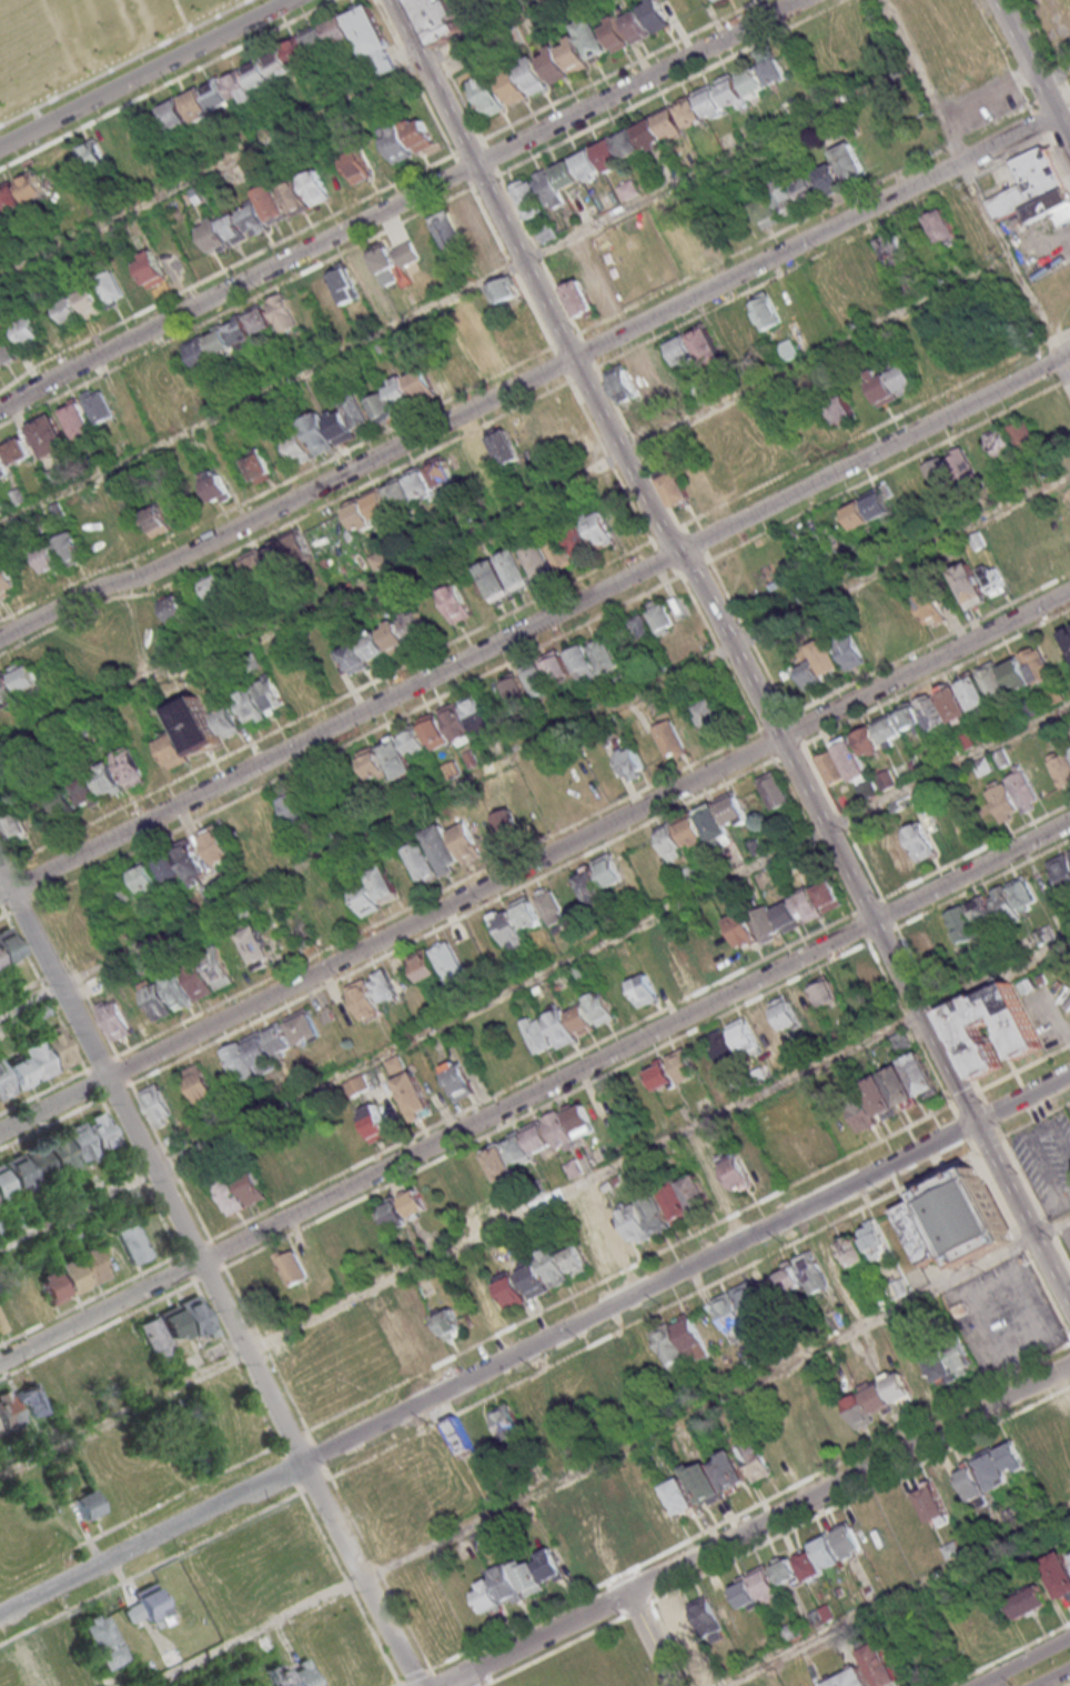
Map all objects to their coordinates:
road: (180, 14)
building: (654, 14)
building: (442, 19)
building: (625, 30)
road: (250, 40)
road: (1046, 46)
building: (575, 51)
road: (1002, 56)
road: (122, 62)
building: (289, 62)
road: (445, 71)
building: (773, 71)
road: (145, 73)
road: (1032, 73)
building: (532, 76)
road: (1054, 78)
road: (415, 79)
building: (753, 82)
building: (512, 87)
building: (730, 92)
building: (487, 94)
building: (175, 116)
road: (1037, 121)
road: (85, 123)
building: (418, 133)
building: (133, 136)
road: (271, 138)
building: (396, 143)
building: (626, 144)
building: (91, 153)
road: (488, 154)
road: (1056, 160)
building: (848, 161)
building: (357, 167)
road: (461, 170)
building: (828, 177)
building: (315, 188)
building: (807, 189)
building: (1033, 189)
road: (976, 190)
building: (21, 191)
building: (627, 191)
building: (294, 198)
building: (527, 198)
road: (400, 202)
building: (271, 203)
building: (777, 203)
building: (467, 219)
building: (254, 220)
building: (942, 228)
building: (446, 230)
building: (222, 233)
building: (693, 244)
building: (894, 249)
road: (538, 253)
building: (382, 264)
road: (224, 268)
road: (527, 270)
building: (120, 282)
building: (344, 283)
building: (322, 290)
building: (503, 291)
building: (589, 293)
road: (456, 295)
road: (236, 308)
building: (69, 311)
building: (282, 312)
building: (755, 314)
building: (260, 319)
building: (28, 330)
building: (218, 342)
building: (707, 345)
building: (6, 348)
road: (587, 349)
building: (482, 352)
building: (633, 379)
road: (527, 380)
building: (892, 382)
building: (421, 383)
building: (400, 393)
building: (841, 409)
building: (87, 412)
building: (356, 414)
road: (872, 428)
building: (316, 433)
building: (48, 435)
building: (1010, 438)
road: (638, 446)
building: (493, 448)
building: (299, 449)
building: (16, 451)
road: (607, 458)
building: (2, 466)
building: (256, 466)
building: (960, 466)
building: (440, 471)
building: (936, 479)
building: (213, 484)
road: (277, 486)
building: (676, 488)
building: (410, 489)
building: (866, 509)
building: (366, 510)
road: (507, 513)
building: (154, 519)
road: (664, 531)
road: (694, 542)
building: (59, 552)
building: (276, 556)
building: (538, 561)
building: (1015, 570)
building: (504, 575)
building: (7, 580)
building: (992, 580)
building: (968, 585)
building: (214, 586)
building: (454, 603)
building: (929, 606)
building: (173, 608)
building: (658, 615)
road: (541, 622)
building: (414, 623)
building: (638, 629)
road: (746, 632)
building: (1067, 635)
road: (549, 640)
building: (373, 648)
building: (849, 651)
building: (602, 654)
building: (826, 659)
building: (554, 666)
building: (1015, 674)
building: (809, 675)
building: (534, 679)
building: (17, 683)
building: (513, 688)
building: (972, 692)
building: (1054, 694)
building: (259, 700)
road: (327, 704)
building: (922, 714)
building: (710, 717)
building: (466, 719)
building: (228, 722)
building: (194, 725)
building: (670, 739)
building: (867, 741)
building: (411, 744)
road: (534, 745)
building: (172, 750)
building: (152, 761)
building: (371, 762)
building: (630, 762)
building: (841, 764)
building: (129, 767)
building: (1062, 769)
building: (107, 779)
building: (885, 780)
building: (774, 790)
building: (1023, 791)
building: (85, 793)
building: (1002, 802)
building: (61, 803)
building: (291, 807)
building: (723, 817)
building: (506, 823)
building: (14, 824)
building: (961, 825)
road: (825, 829)
building: (690, 832)
building: (920, 841)
building: (669, 842)
building: (214, 846)
building: (898, 850)
building: (443, 852)
road: (973, 853)
building: (876, 859)
building: (188, 861)
road: (534, 861)
building: (1061, 869)
building: (608, 870)
building: (144, 880)
building: (589, 885)
road: (980, 885)
road: (4, 891)
building: (375, 891)
road: (1, 902)
road: (882, 902)
building: (806, 905)
road: (20, 906)
building: (549, 906)
road: (865, 907)
road: (6, 914)
road: (888, 914)
building: (982, 915)
building: (516, 922)
building: (764, 923)
building: (961, 924)
road: (857, 926)
building: (740, 929)
building: (1044, 934)
road: (881, 936)
road: (865, 941)
building: (719, 942)
building: (921, 943)
building: (1027, 943)
building: (9, 945)
road: (64, 954)
building: (1, 962)
building: (437, 963)
road: (912, 963)
building: (682, 964)
building: (218, 970)
building: (867, 974)
road: (534, 977)
road: (887, 979)
building: (94, 985)
building: (383, 985)
road: (44, 986)
building: (643, 990)
building: (362, 998)
building: (155, 1001)
building: (805, 1002)
building: (599, 1007)
road: (936, 1008)
building: (113, 1018)
road: (909, 1020)
building: (567, 1024)
building: (303, 1026)
building: (767, 1031)
building: (1021, 1033)
building: (535, 1034)
building: (733, 1043)
building: (61, 1050)
building: (255, 1053)
building: (40, 1060)
road: (961, 1060)
building: (682, 1065)
road: (1022, 1070)
road: (935, 1072)
building: (659, 1074)
road: (529, 1078)
building: (456, 1080)
road: (1018, 1081)
building: (6, 1084)
building: (198, 1084)
building: (355, 1085)
building: (719, 1090)
road: (43, 1091)
building: (890, 1092)
road: (535, 1093)
road: (1024, 1093)
building: (412, 1095)
road: (965, 1100)
building: (158, 1105)
road: (545, 1106)
road: (1058, 1110)
road: (1037, 1113)
road: (989, 1115)
road: (1039, 1120)
building: (364, 1126)
road: (962, 1128)
road: (1041, 1130)
road: (1015, 1132)
building: (537, 1140)
road: (1061, 1141)
road: (988, 1145)
building: (62, 1153)
road: (169, 1163)
building: (756, 1163)
parking lot: (1048, 1163)
road: (151, 1166)
building: (574, 1168)
road: (1044, 1168)
road: (1020, 1174)
building: (715, 1183)
building: (458, 1184)
building: (250, 1185)
building: (4, 1186)
road: (992, 1188)
road: (1066, 1201)
road: (534, 1208)
building: (393, 1213)
road: (1022, 1215)
building: (966, 1217)
building: (16, 1218)
building: (643, 1218)
building: (1, 1226)
road: (1049, 1231)
building: (921, 1232)
building: (154, 1234)
building: (133, 1244)
road: (1020, 1245)
building: (332, 1246)
building: (867, 1246)
road: (195, 1248)
road: (1061, 1253)
road: (215, 1255)
road: (182, 1256)
building: (291, 1265)
road: (685, 1267)
road: (188, 1268)
road: (627, 1269)
building: (73, 1275)
building: (802, 1275)
road: (209, 1276)
road: (196, 1282)
building: (897, 1286)
building: (249, 1288)
building: (499, 1296)
road: (1047, 1296)
road: (92, 1298)
road: (240, 1303)
building: (11, 1306)
building: (740, 1307)
road: (652, 1315)
building: (838, 1317)
parking lot: (1005, 1317)
road: (213, 1318)
building: (437, 1324)
building: (1, 1325)
building: (400, 1338)
building: (678, 1341)
road: (264, 1346)
building: (123, 1352)
road: (234, 1362)
building: (947, 1364)
building: (606, 1374)
building: (877, 1397)
road: (290, 1398)
building: (20, 1407)
road: (261, 1413)
building: (505, 1422)
building: (816, 1428)
building: (458, 1436)
road: (292, 1439)
road: (280, 1446)
road: (610, 1454)
road: (317, 1455)
building: (754, 1459)
building: (1010, 1461)
building: (728, 1472)
road: (291, 1473)
building: (704, 1484)
road: (315, 1486)
building: (949, 1493)
road: (859, 1496)
building: (679, 1497)
building: (85, 1504)
road: (747, 1511)
building: (644, 1512)
road: (350, 1516)
building: (596, 1526)
road: (754, 1526)
road: (322, 1534)
road: (151, 1538)
building: (482, 1539)
building: (848, 1541)
building: (827, 1552)
building: (809, 1566)
road: (152, 1569)
building: (786, 1572)
road: (380, 1573)
road: (361, 1575)
building: (1058, 1575)
building: (526, 1576)
building: (765, 1584)
road: (350, 1587)
road: (643, 1593)
building: (744, 1593)
building: (485, 1596)
road: (897, 1596)
building: (1027, 1602)
building: (152, 1606)
road: (637, 1610)
building: (697, 1620)
road: (407, 1627)
road: (376, 1639)
road: (647, 1639)
building: (100, 1640)
road: (668, 1643)
road: (556, 1650)
road: (1010, 1655)
building: (31, 1662)
road: (1022, 1662)
building: (878, 1664)
building: (291, 1674)
road: (1053, 1677)
road: (415, 1678)
building: (848, 1678)
road: (435, 1680)
road: (988, 1683)
road: (403, 1685)
road: (1069, 1685)

